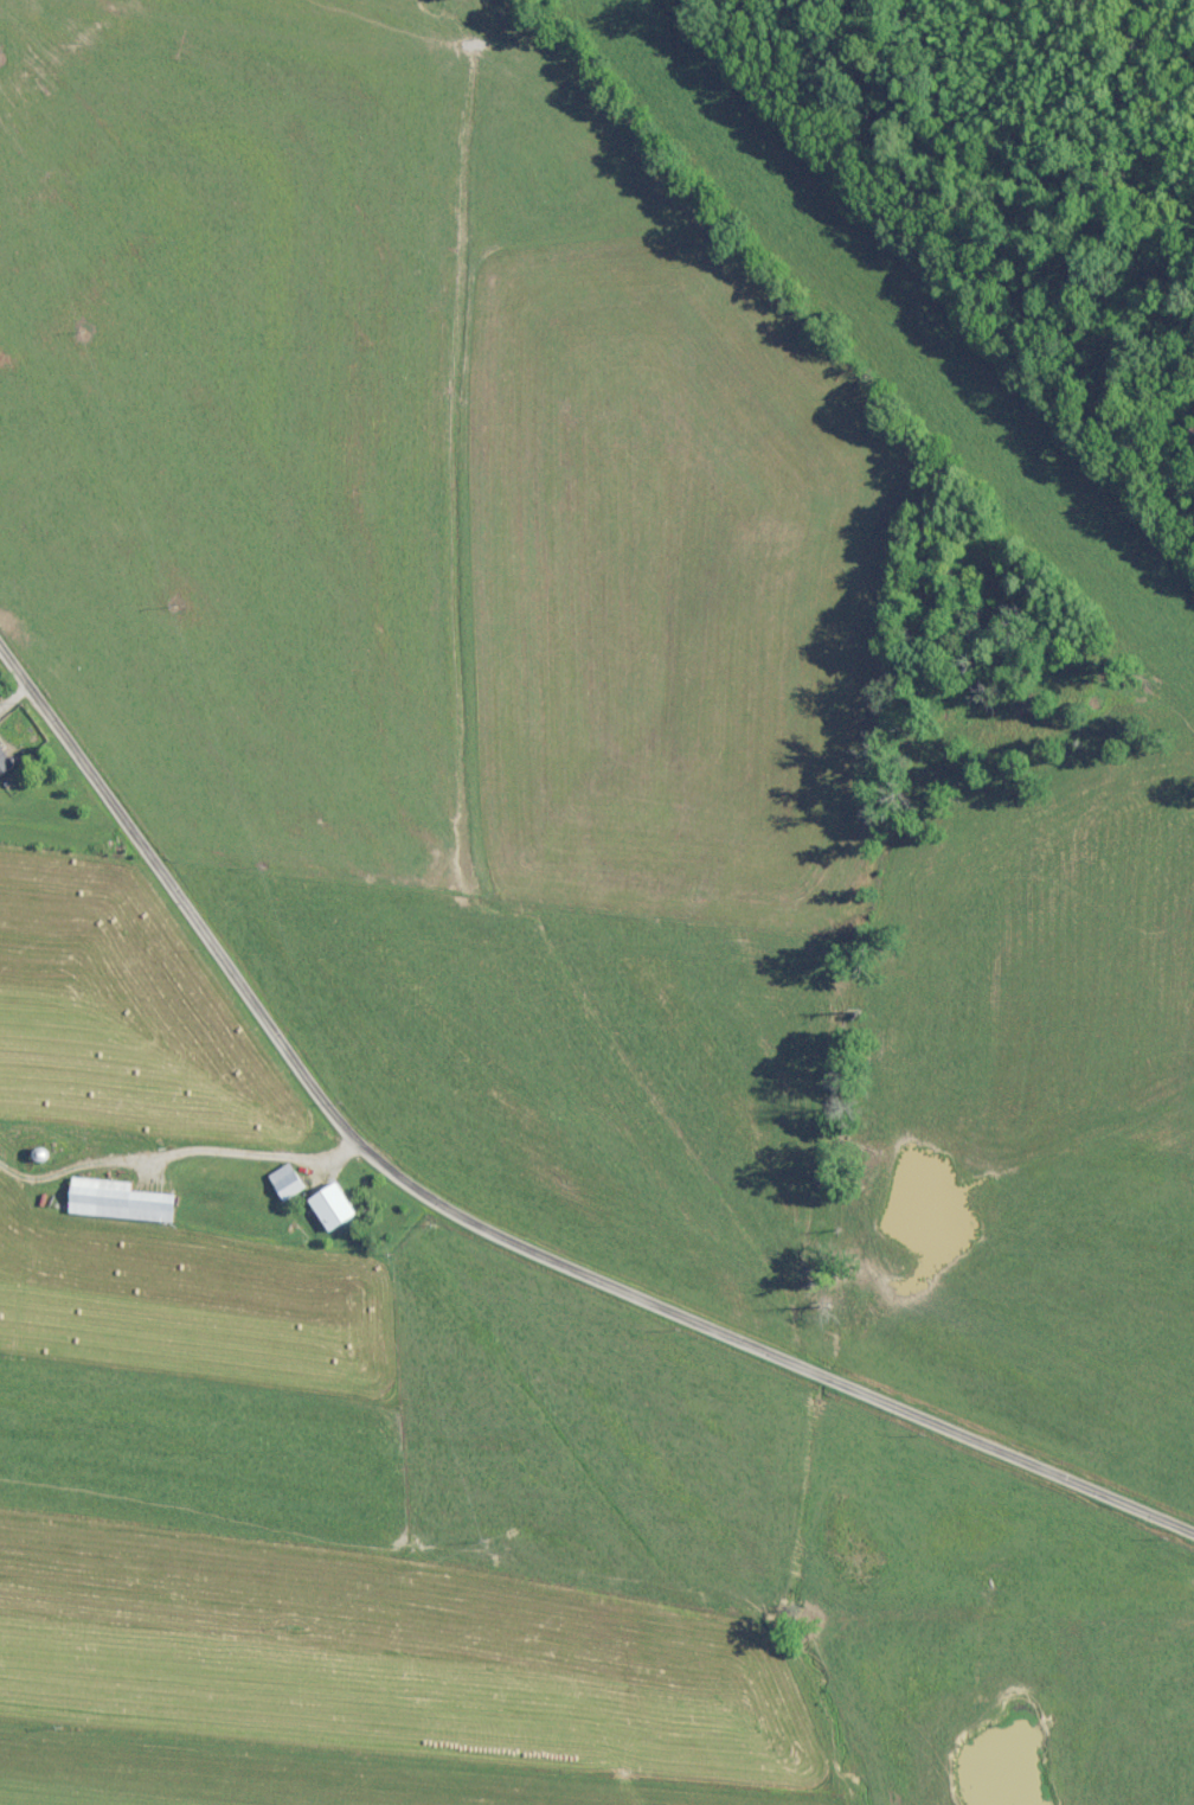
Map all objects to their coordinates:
building: (1188, 437)
building: (280, 1180)
building: (110, 1199)
building: (325, 1205)
road: (487, 1227)

